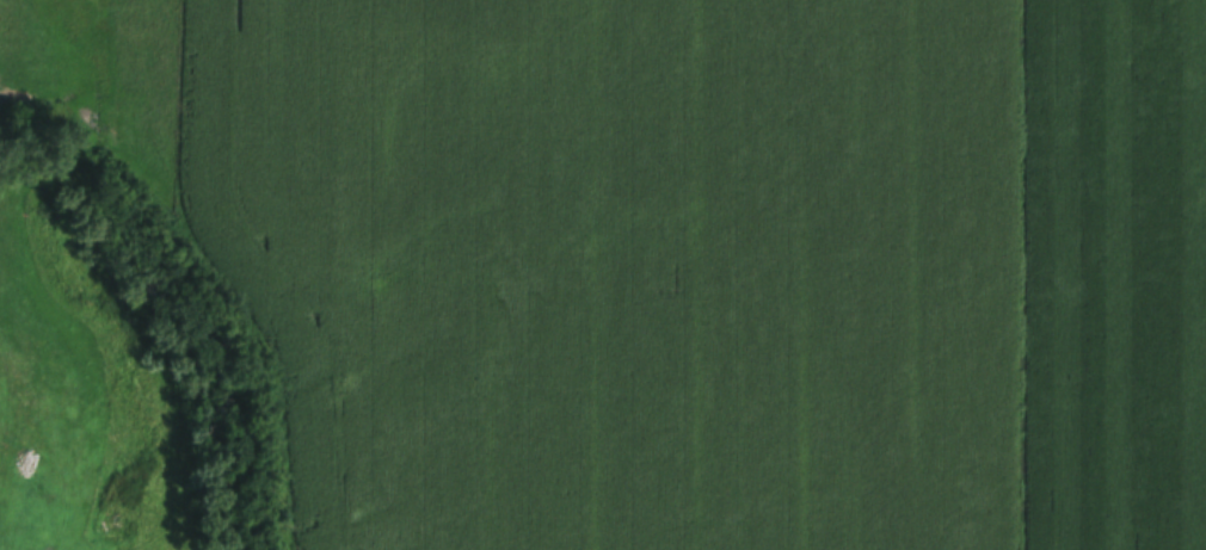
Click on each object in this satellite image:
building: (12, 468)

